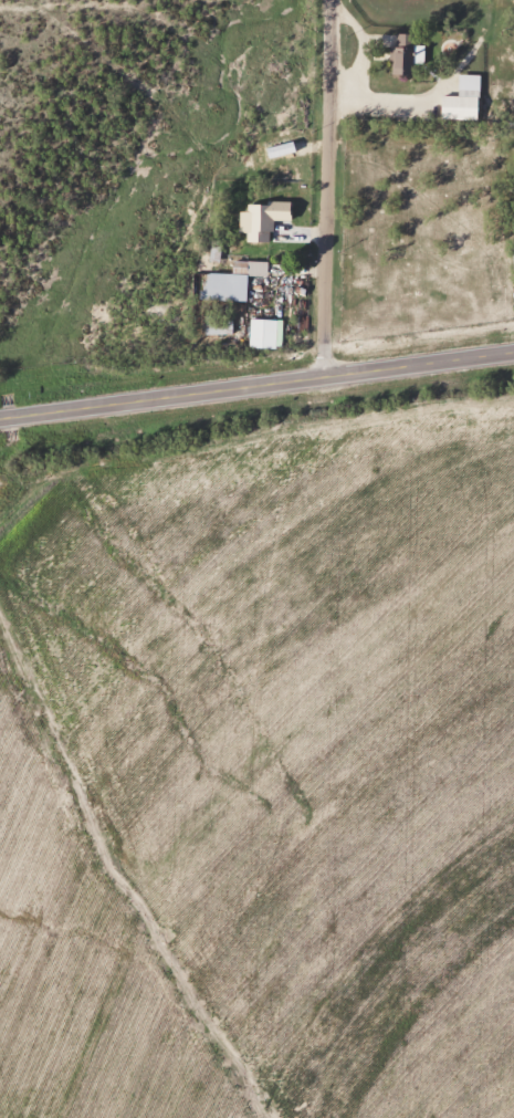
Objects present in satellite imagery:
building: (399, 62)
building: (455, 108)
road: (326, 189)
building: (255, 224)
building: (221, 288)
building: (217, 327)
building: (261, 334)
road: (256, 387)

